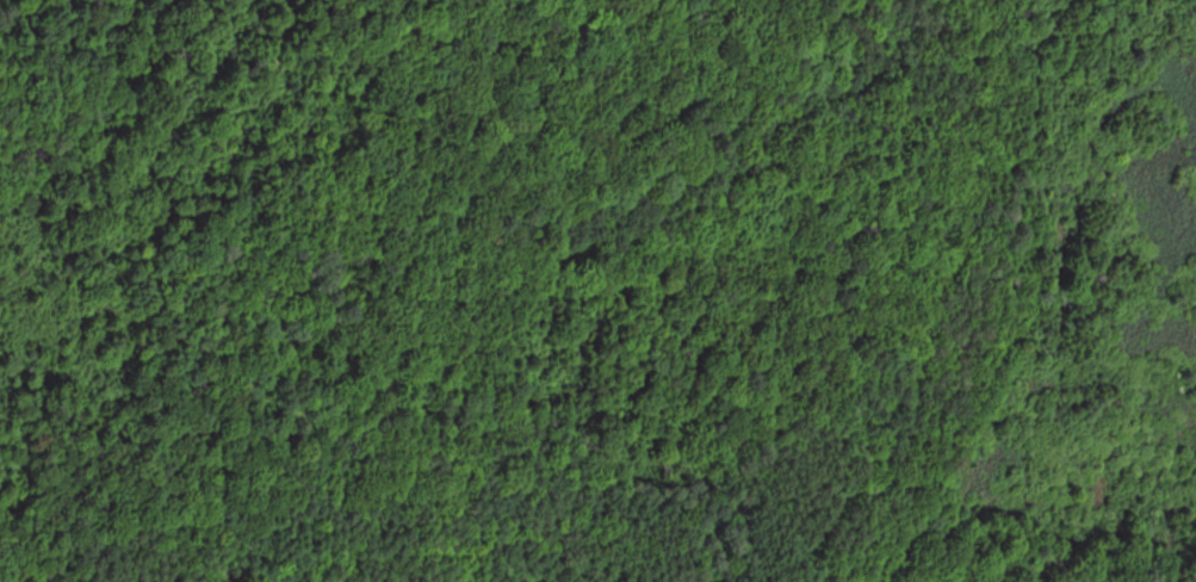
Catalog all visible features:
park: (597, 291)

